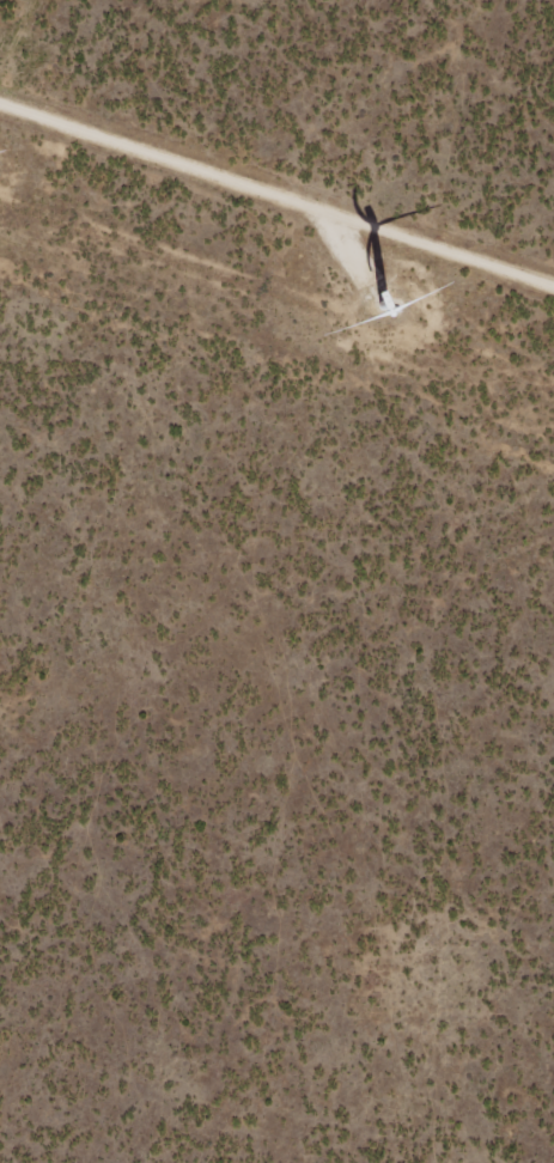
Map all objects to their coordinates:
wind turbine: (375, 308)

